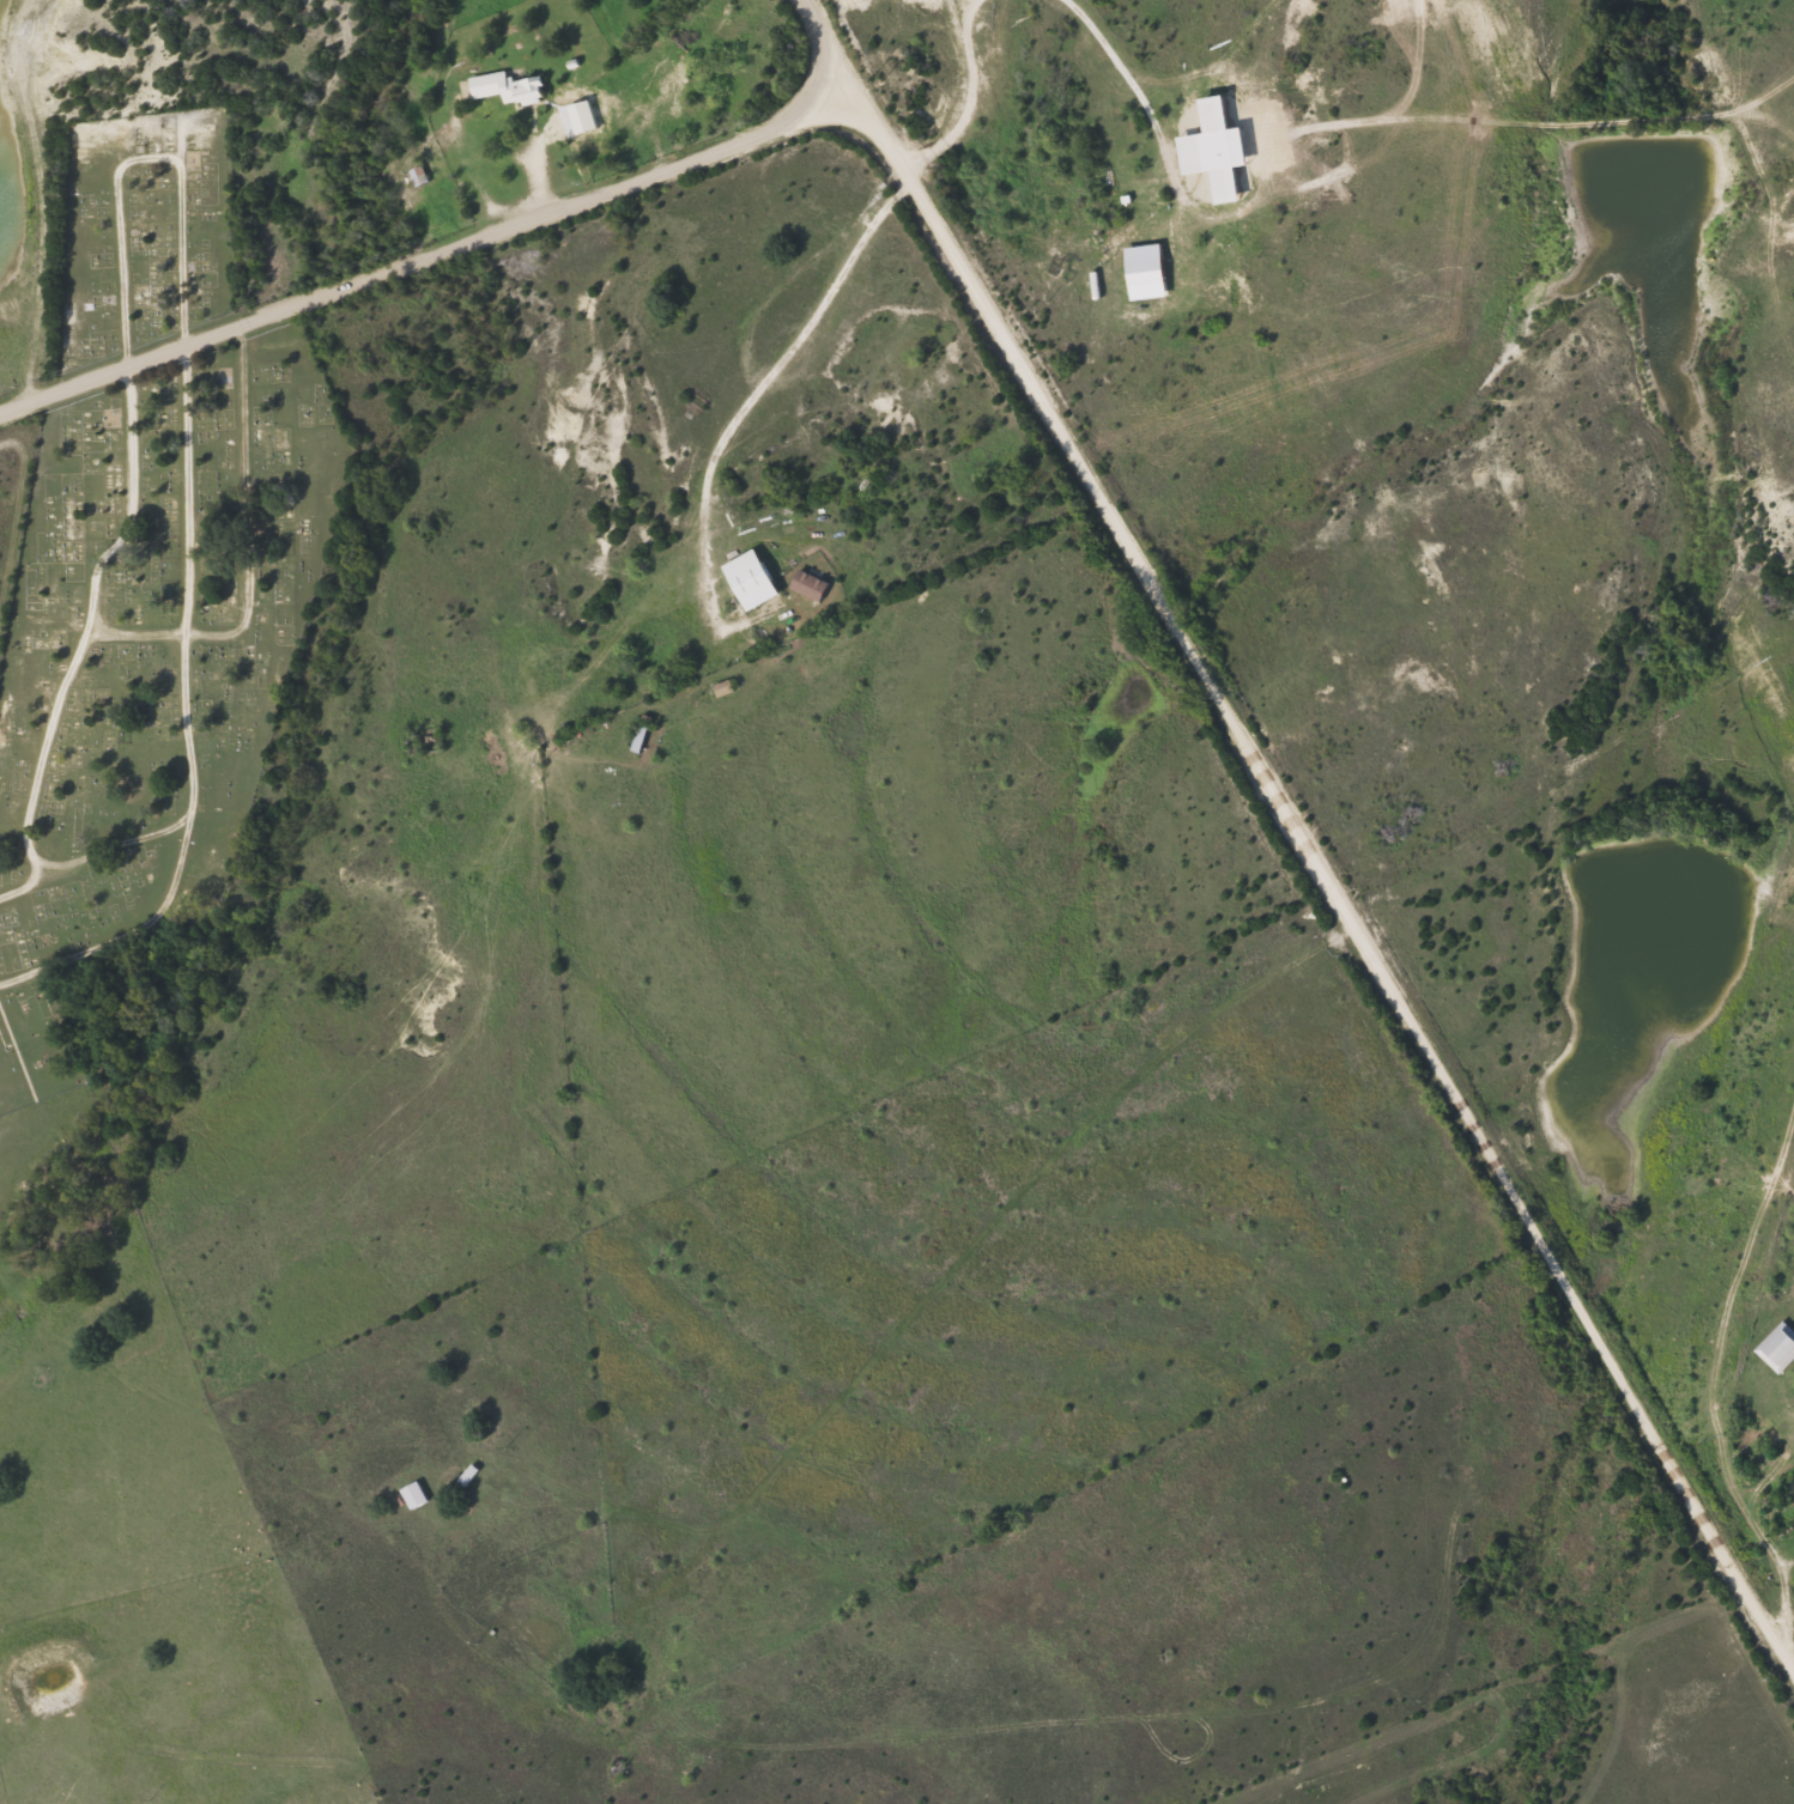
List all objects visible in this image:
road: (838, 47)
building: (510, 80)
building: (1217, 151)
building: (414, 174)
road: (434, 253)
park: (149, 567)
building: (748, 575)
building: (806, 583)
building: (635, 736)
road: (1331, 876)
building: (1775, 1346)
building: (410, 1493)

